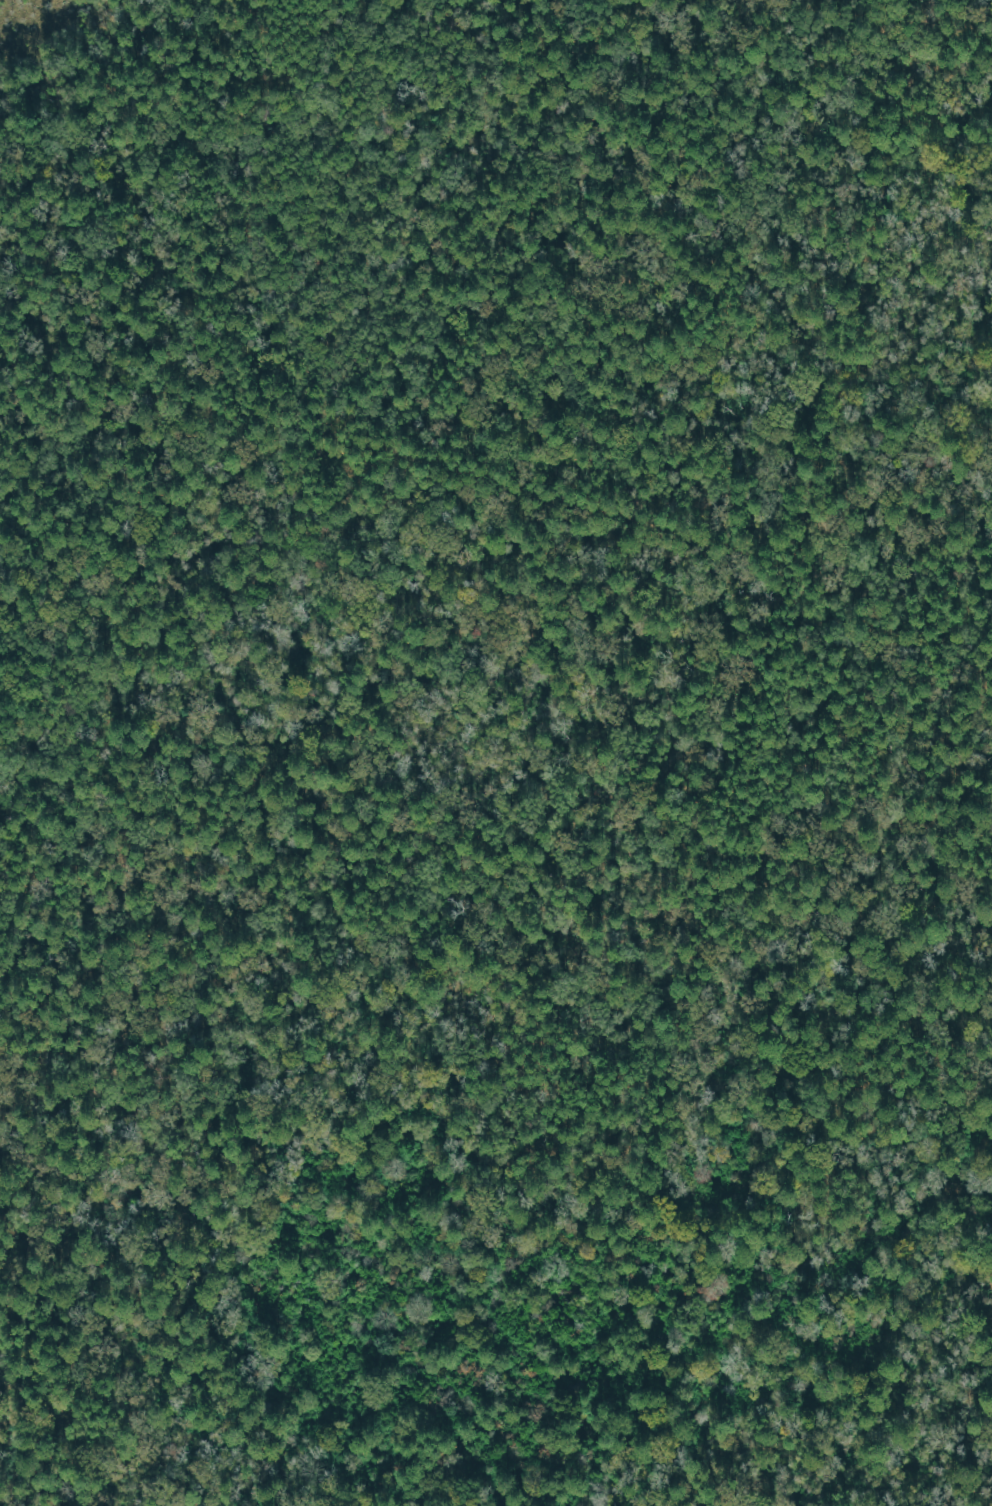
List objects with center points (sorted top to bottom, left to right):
road: (670, 519)

